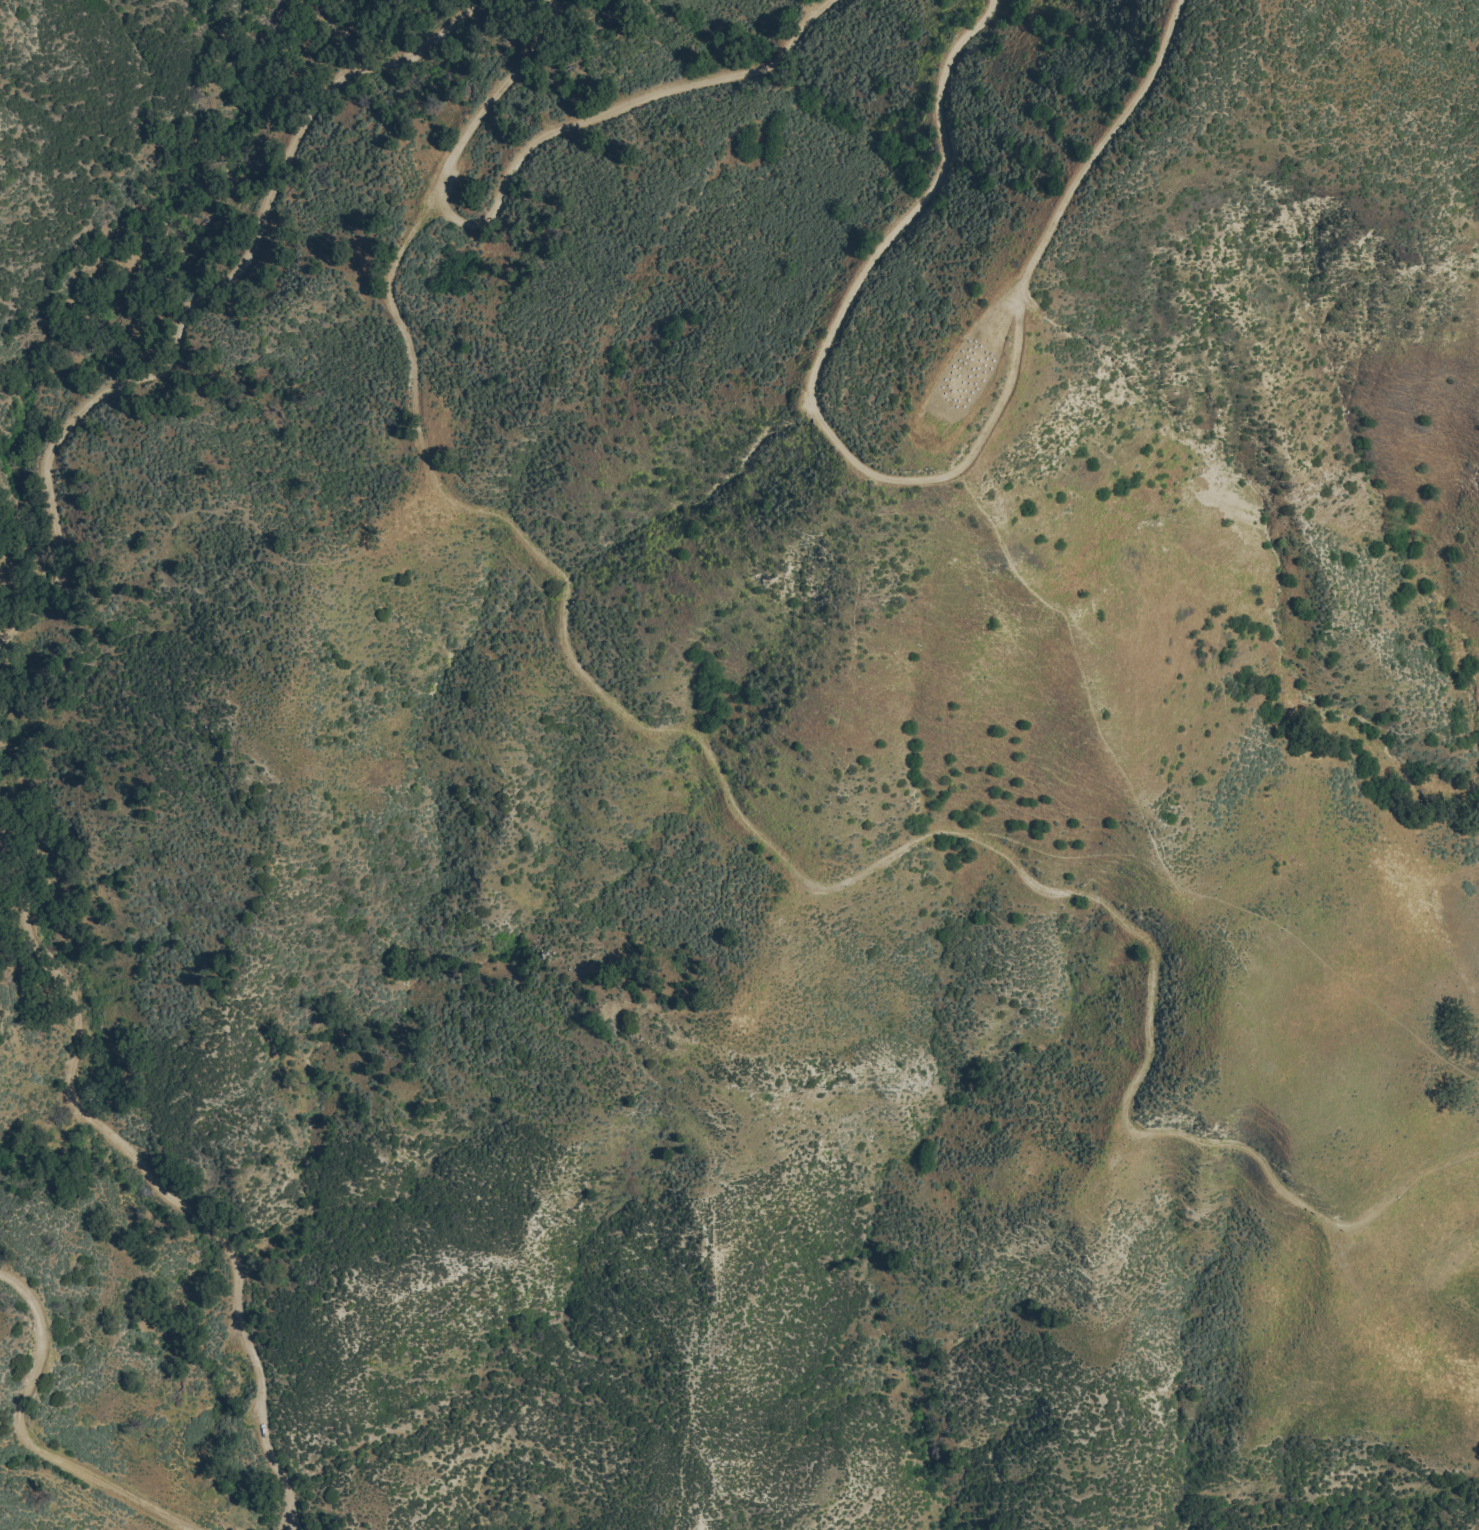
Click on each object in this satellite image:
road: (444, 37)
road: (910, 466)
road: (853, 879)
road: (117, 1143)
road: (25, 1440)

